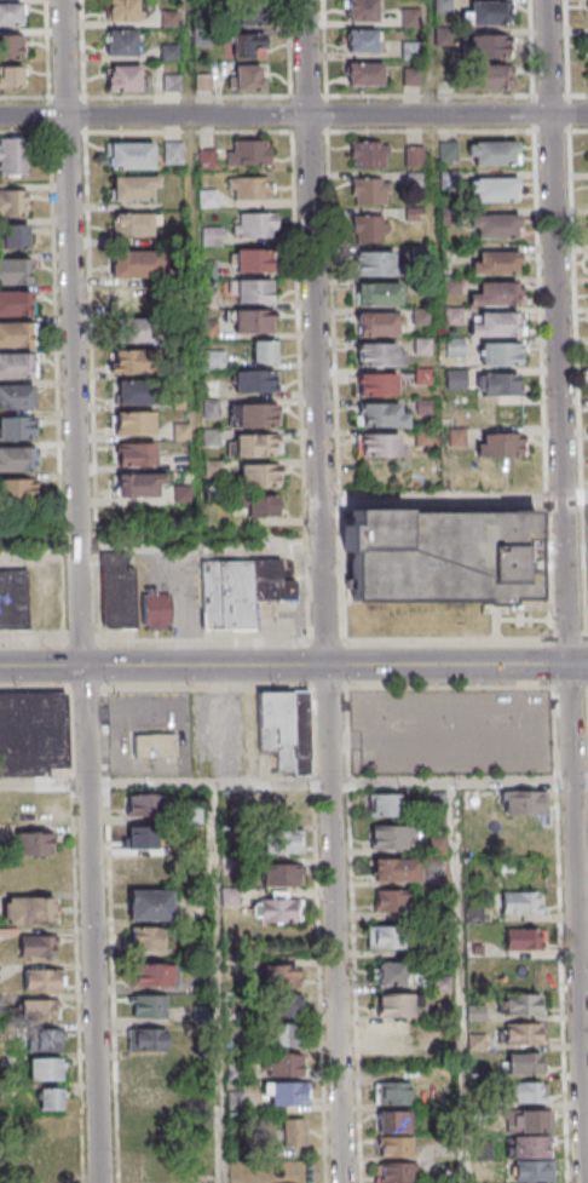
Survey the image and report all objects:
building: (121, 10)
building: (361, 10)
building: (587, 11)
building: (484, 12)
building: (10, 13)
building: (250, 13)
building: (410, 17)
building: (362, 40)
building: (121, 42)
building: (586, 44)
building: (246, 45)
building: (490, 45)
building: (10, 46)
road: (565, 47)
building: (410, 48)
building: (364, 74)
building: (410, 75)
building: (490, 75)
building: (10, 76)
building: (123, 76)
building: (248, 76)
building: (172, 81)
road: (577, 93)
road: (294, 115)
road: (578, 130)
road: (188, 131)
road: (430, 131)
building: (448, 150)
building: (173, 151)
building: (248, 151)
building: (370, 153)
building: (492, 153)
building: (129, 154)
building: (414, 155)
building: (12, 156)
building: (207, 157)
building: (446, 177)
building: (134, 188)
building: (248, 188)
building: (494, 189)
building: (370, 190)
building: (207, 197)
building: (13, 202)
building: (134, 223)
building: (255, 225)
building: (495, 226)
building: (370, 229)
building: (212, 235)
building: (13, 236)
road: (552, 247)
building: (252, 260)
building: (497, 262)
building: (136, 263)
building: (375, 264)
building: (15, 270)
building: (254, 291)
building: (377, 294)
building: (494, 294)
building: (134, 298)
building: (15, 303)
building: (454, 316)
building: (421, 317)
building: (254, 321)
building: (377, 325)
building: (495, 325)
building: (137, 329)
building: (15, 334)
building: (422, 346)
building: (454, 346)
building: (265, 350)
building: (501, 354)
building: (379, 355)
building: (131, 361)
building: (17, 364)
building: (423, 377)
building: (456, 378)
building: (255, 380)
road: (91, 384)
building: (377, 384)
building: (497, 384)
road: (302, 385)
road: (334, 385)
road: (541, 385)
road: (577, 385)
building: (137, 392)
building: (17, 396)
building: (422, 406)
building: (212, 408)
building: (254, 414)
building: (381, 414)
building: (134, 423)
building: (16, 427)
building: (422, 437)
building: (500, 443)
building: (255, 444)
building: (381, 446)
building: (136, 453)
building: (16, 459)
building: (259, 475)
building: (140, 484)
building: (17, 490)
road: (442, 496)
road: (573, 498)
building: (263, 504)
road: (162, 546)
building: (443, 553)
road: (564, 579)
building: (273, 581)
parking lot: (175, 585)
road: (77, 591)
road: (327, 591)
building: (119, 592)
building: (227, 595)
building: (16, 597)
building: (156, 610)
parking lot: (276, 615)
road: (523, 618)
road: (496, 620)
road: (587, 638)
road: (275, 639)
road: (569, 639)
road: (449, 665)
road: (577, 665)
road: (166, 666)
road: (158, 687)
road: (334, 688)
road: (469, 688)
parking lot: (149, 711)
road: (567, 723)
building: (279, 730)
building: (300, 731)
building: (33, 733)
parking lot: (218, 733)
parking lot: (456, 733)
building: (155, 745)
road: (293, 785)
building: (524, 802)
building: (143, 803)
building: (381, 804)
building: (390, 835)
building: (142, 837)
building: (279, 839)
building: (30, 840)
building: (394, 867)
building: (145, 868)
building: (279, 872)
building: (392, 898)
building: (523, 901)
building: (149, 905)
building: (279, 909)
building: (31, 911)
road: (75, 935)
road: (110, 935)
road: (356, 935)
road: (564, 935)
road: (321, 936)
building: (385, 936)
building: (146, 937)
building: (525, 937)
building: (38, 946)
building: (391, 972)
building: (151, 974)
building: (277, 975)
building: (44, 980)
road: (463, 982)
road: (576, 982)
road: (221, 983)
building: (397, 1003)
building: (277, 1004)
building: (524, 1004)
building: (148, 1006)
building: (41, 1009)
building: (525, 1033)
building: (282, 1034)
building: (394, 1034)
building: (148, 1039)
building: (44, 1040)
building: (284, 1063)
building: (525, 1063)
building: (45, 1068)
building: (148, 1068)
building: (283, 1091)
building: (528, 1091)
building: (393, 1092)
building: (51, 1097)
building: (151, 1097)
building: (529, 1120)
building: (392, 1121)
building: (294, 1131)
building: (397, 1145)
building: (530, 1145)
building: (393, 1171)
building: (529, 1171)

